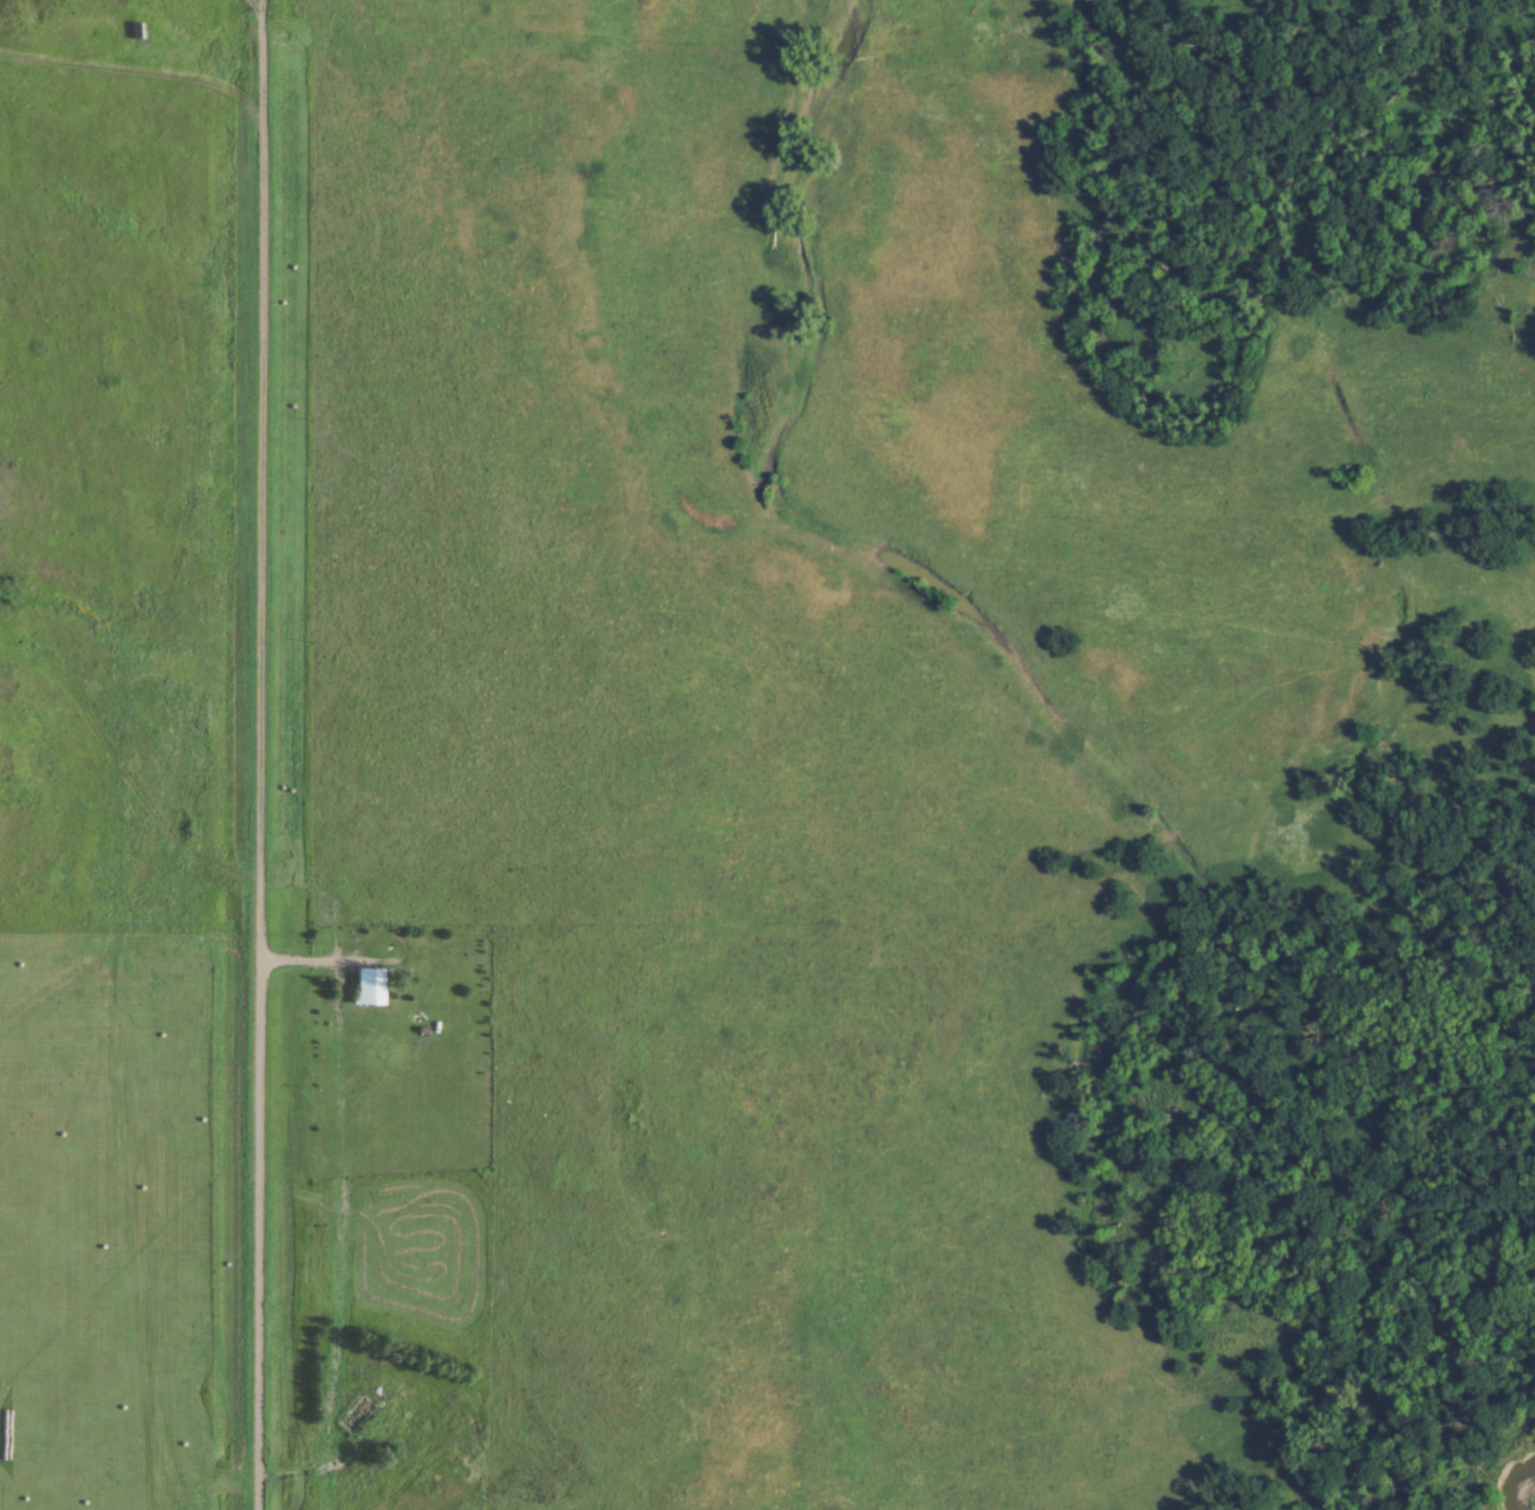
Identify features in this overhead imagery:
building: (133, 32)
road: (310, 765)
building: (367, 986)
building: (355, 1416)
river: (1494, 1480)

